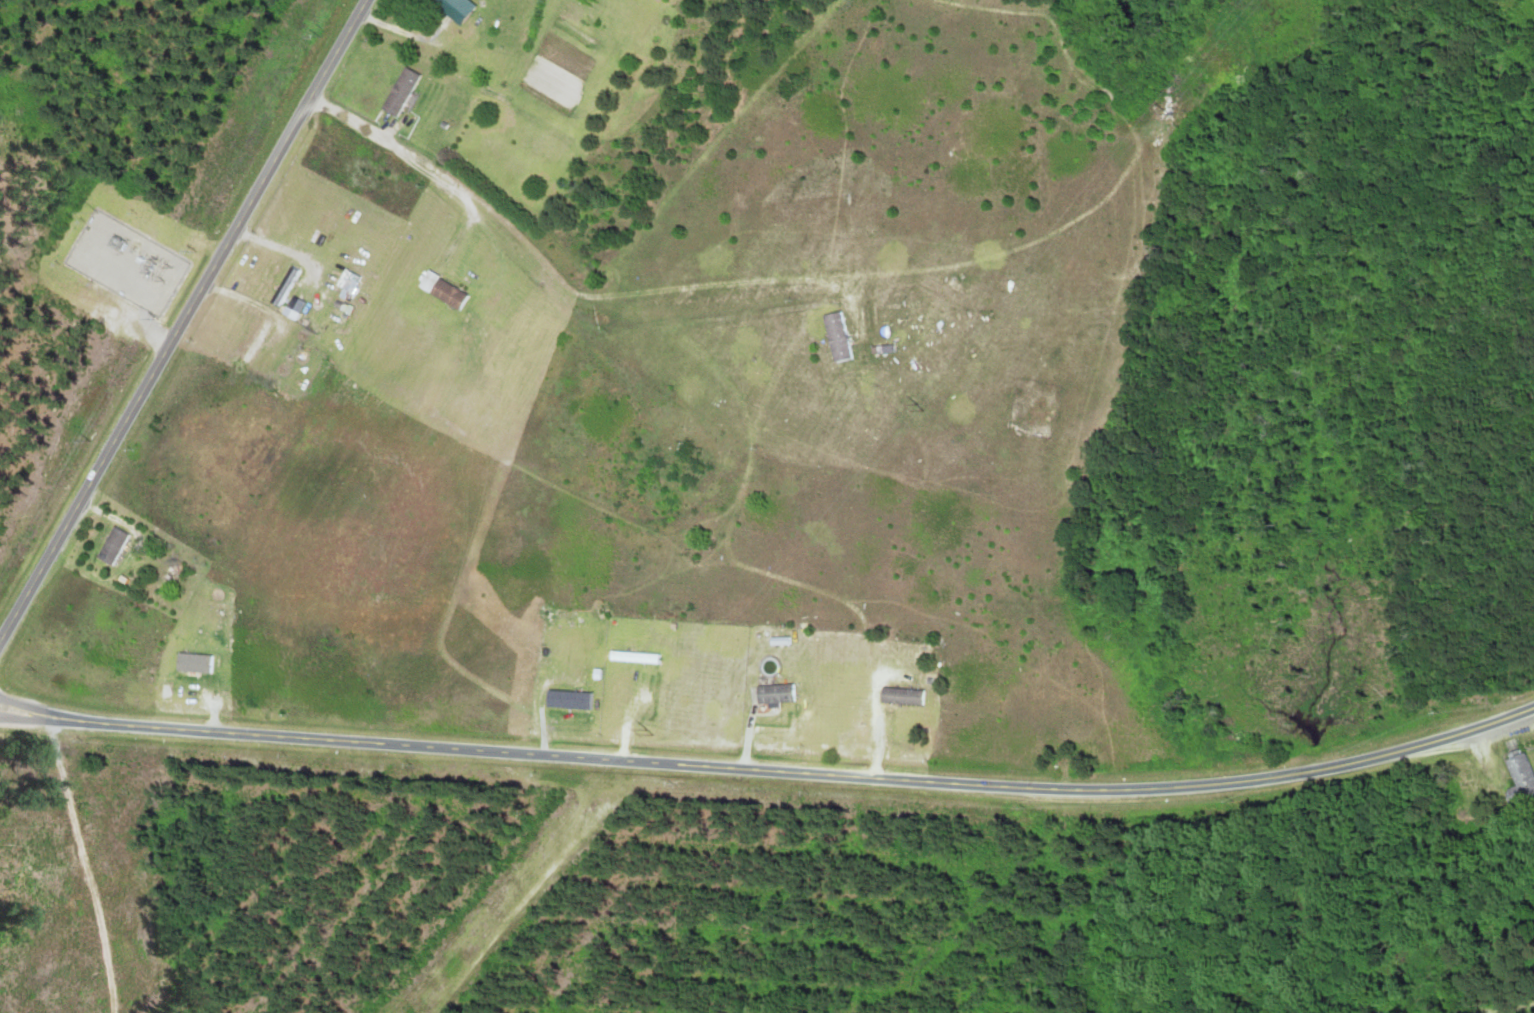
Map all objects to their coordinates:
building: (452, 9)
building: (400, 91)
power tower: (1155, 110)
building: (442, 291)
road: (183, 320)
building: (834, 337)
building: (256, 342)
power tower: (918, 406)
building: (683, 467)
building: (112, 546)
building: (194, 664)
building: (771, 694)
building: (898, 696)
building: (565, 701)
power tower: (645, 730)
road: (770, 770)
building: (1518, 779)

